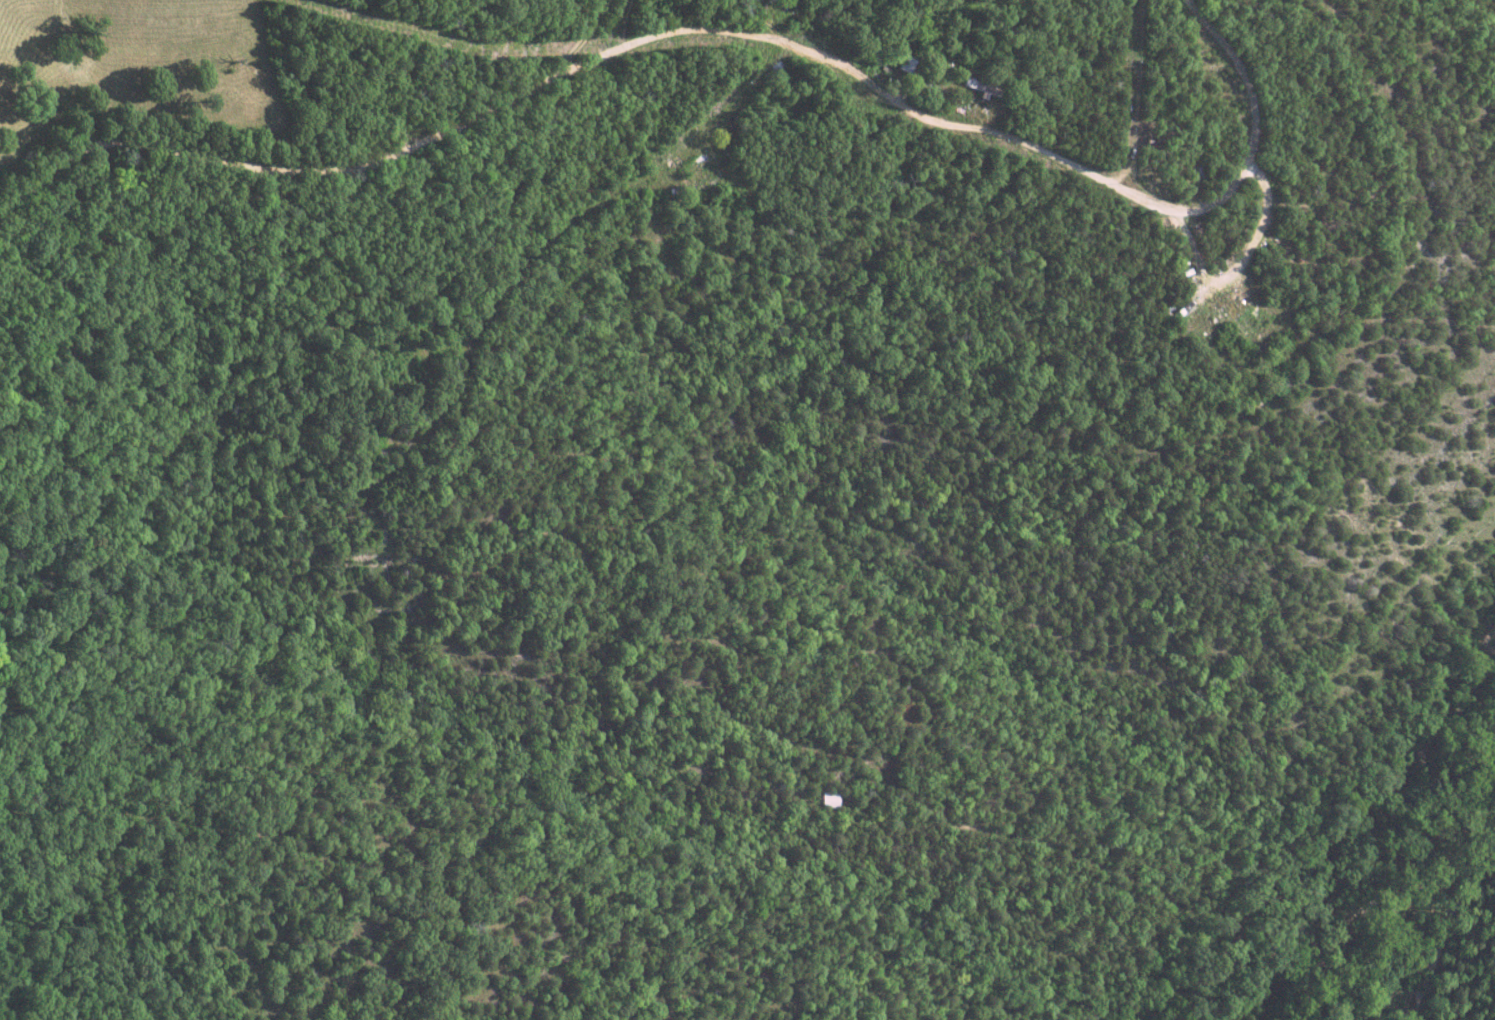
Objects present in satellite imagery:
road: (716, 33)
road: (579, 40)
road: (1235, 263)

